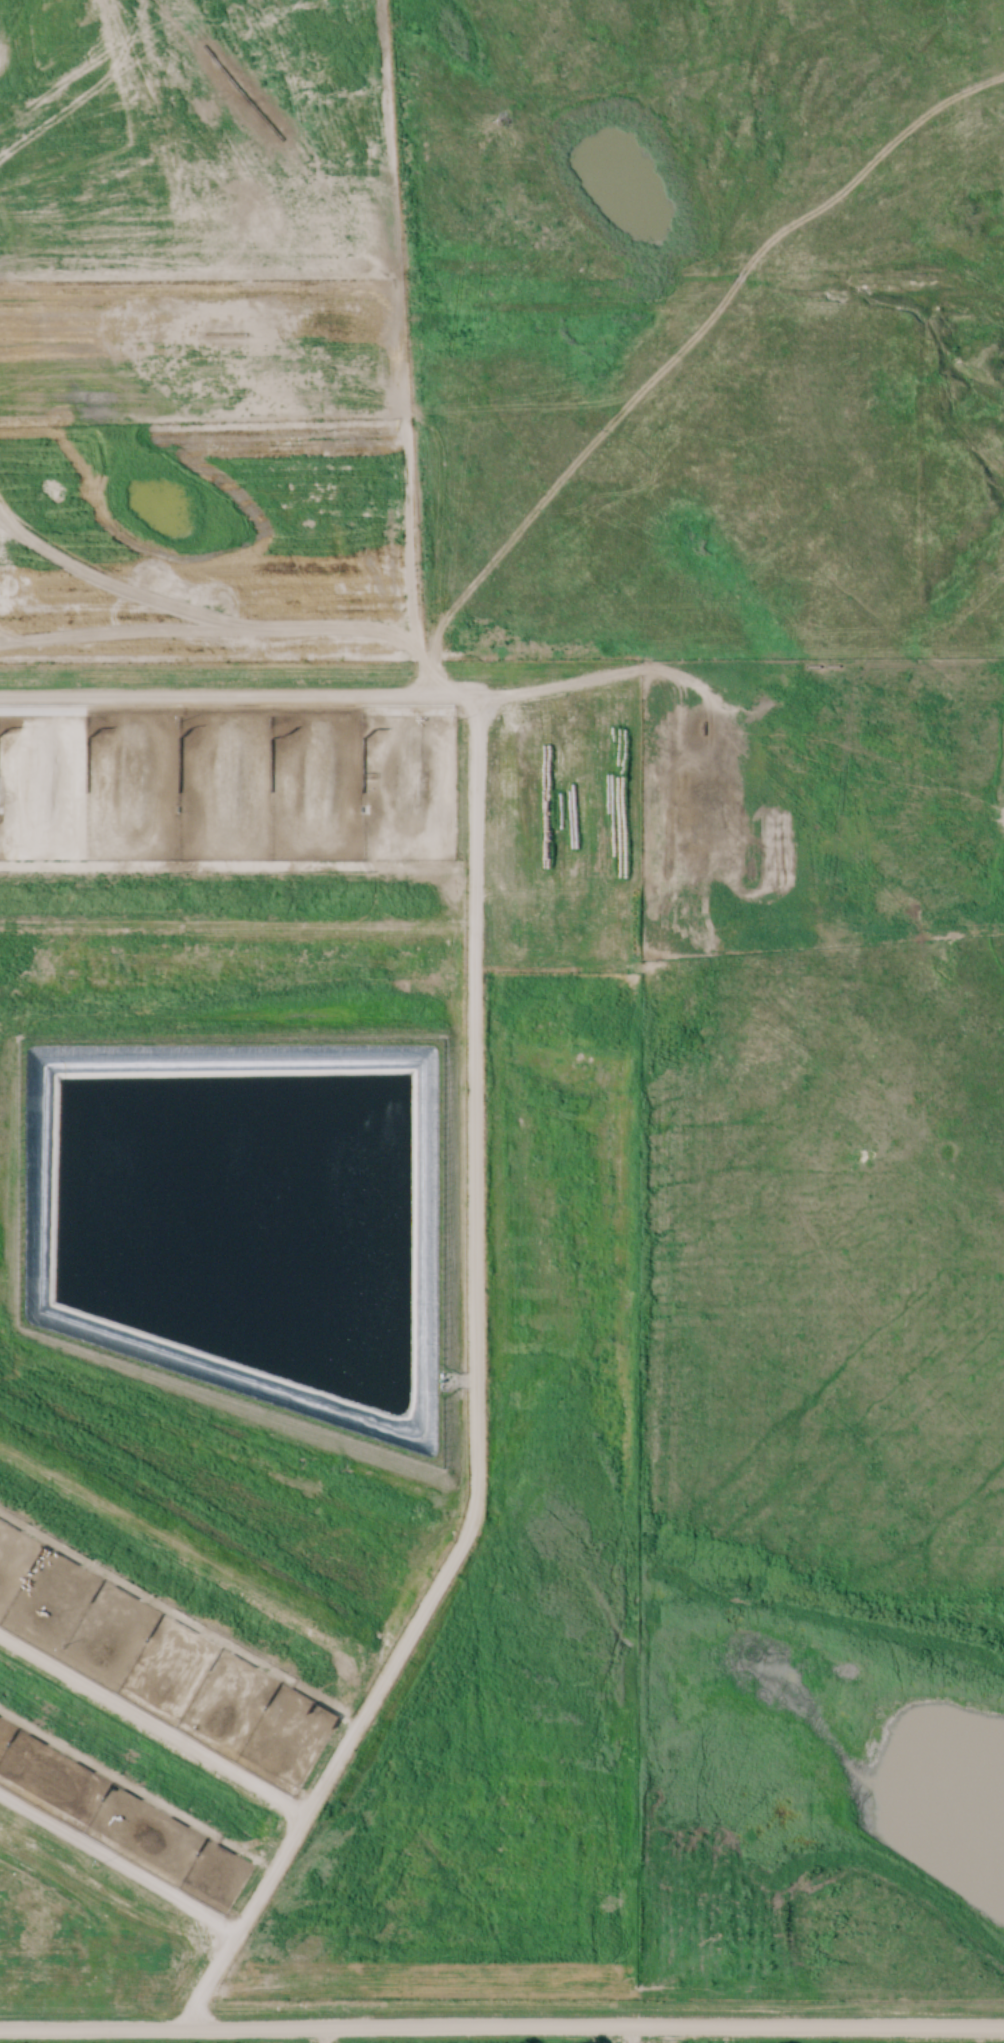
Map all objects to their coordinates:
road: (502, 2020)

